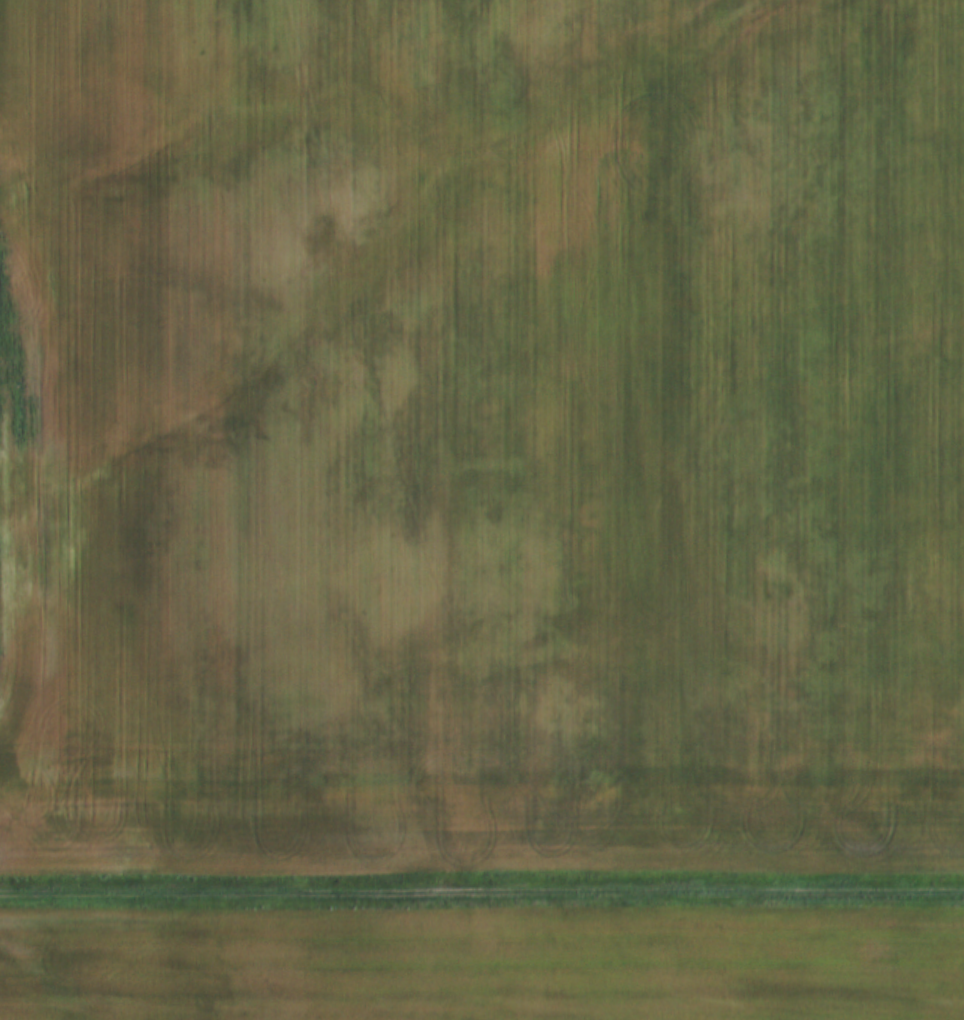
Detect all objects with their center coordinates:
road: (481, 890)

